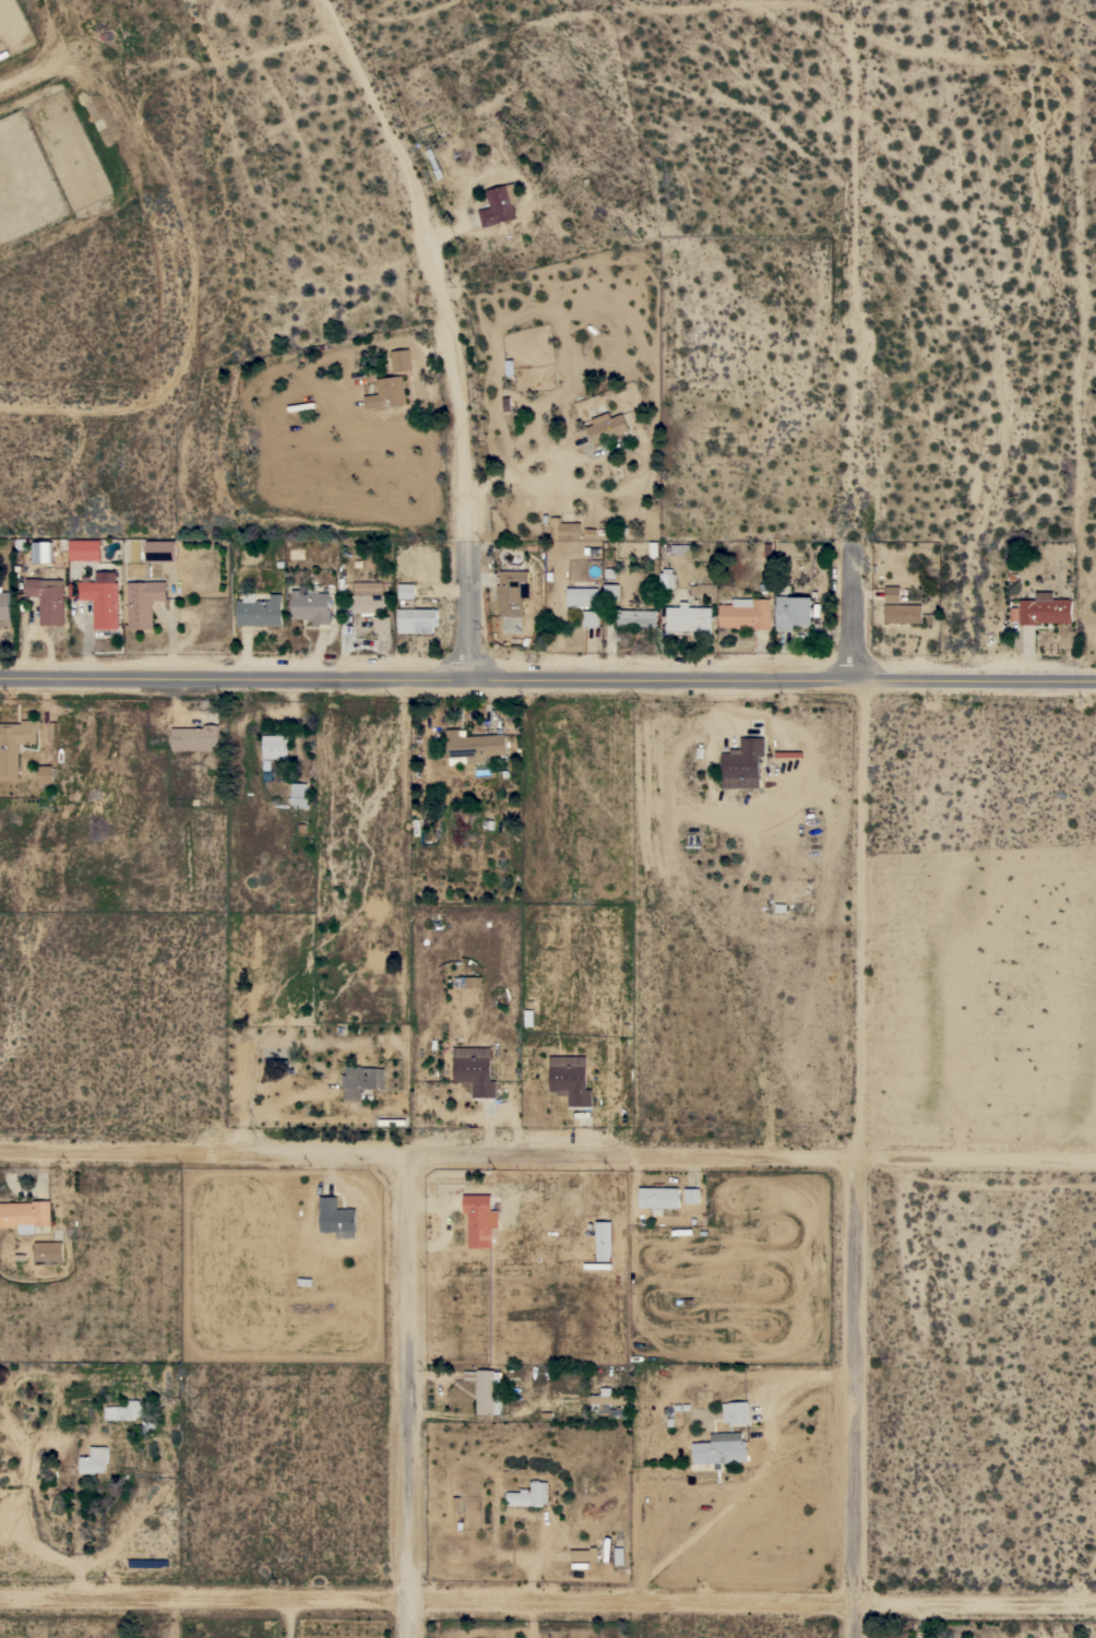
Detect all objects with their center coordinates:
road: (51, 64)
building: (500, 204)
road: (429, 263)
road: (850, 288)
building: (401, 359)
building: (388, 392)
building: (607, 428)
building: (564, 529)
building: (20, 544)
building: (85, 549)
building: (41, 550)
building: (160, 550)
building: (667, 579)
building: (406, 591)
building: (512, 591)
building: (610, 591)
building: (892, 594)
building: (582, 596)
building: (47, 598)
building: (102, 598)
building: (143, 602)
building: (4, 604)
building: (311, 604)
building: (368, 604)
building: (259, 609)
building: (1045, 609)
building: (794, 610)
building: (903, 613)
road: (466, 614)
building: (746, 614)
road: (854, 614)
building: (635, 617)
building: (591, 618)
building: (689, 618)
building: (416, 620)
building: (381, 624)
road: (547, 684)
building: (195, 737)
building: (14, 744)
building: (274, 746)
building: (473, 746)
building: (742, 763)
building: (45, 774)
building: (298, 794)
building: (63, 806)
road: (858, 925)
road: (402, 984)
building: (475, 1070)
building: (570, 1079)
building: (361, 1080)
road: (547, 1161)
building: (692, 1195)
building: (658, 1197)
building: (25, 1214)
building: (336, 1218)
building: (480, 1220)
building: (604, 1241)
building: (49, 1250)
building: (486, 1390)
road: (404, 1398)
road: (853, 1401)
building: (607, 1402)
building: (735, 1412)
building: (138, 1414)
building: (719, 1449)
building: (94, 1460)
road: (750, 1481)
building: (529, 1495)
building: (584, 1554)
road: (547, 1606)

